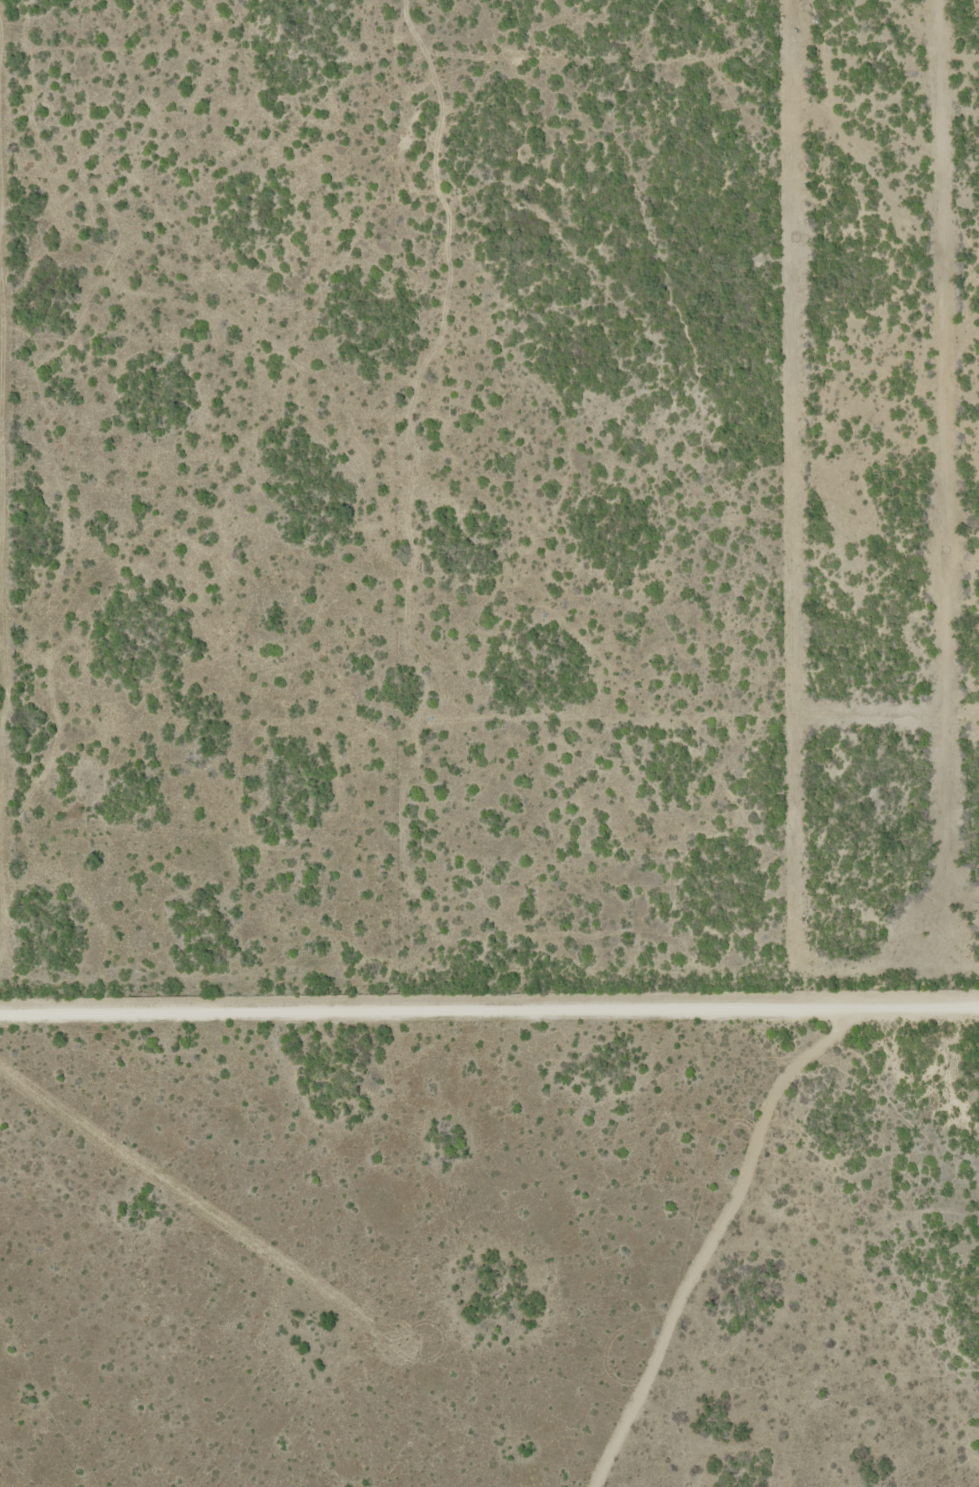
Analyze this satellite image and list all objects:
road: (489, 1006)

